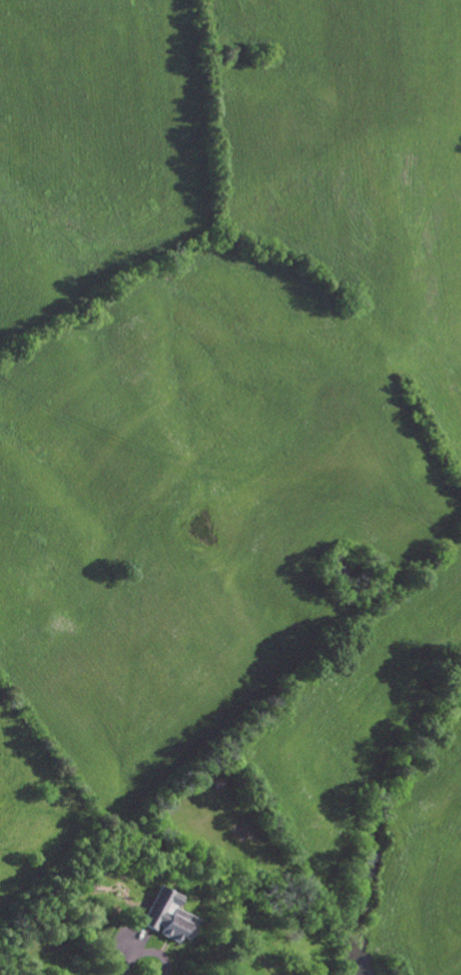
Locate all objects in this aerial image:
building: (167, 918)

